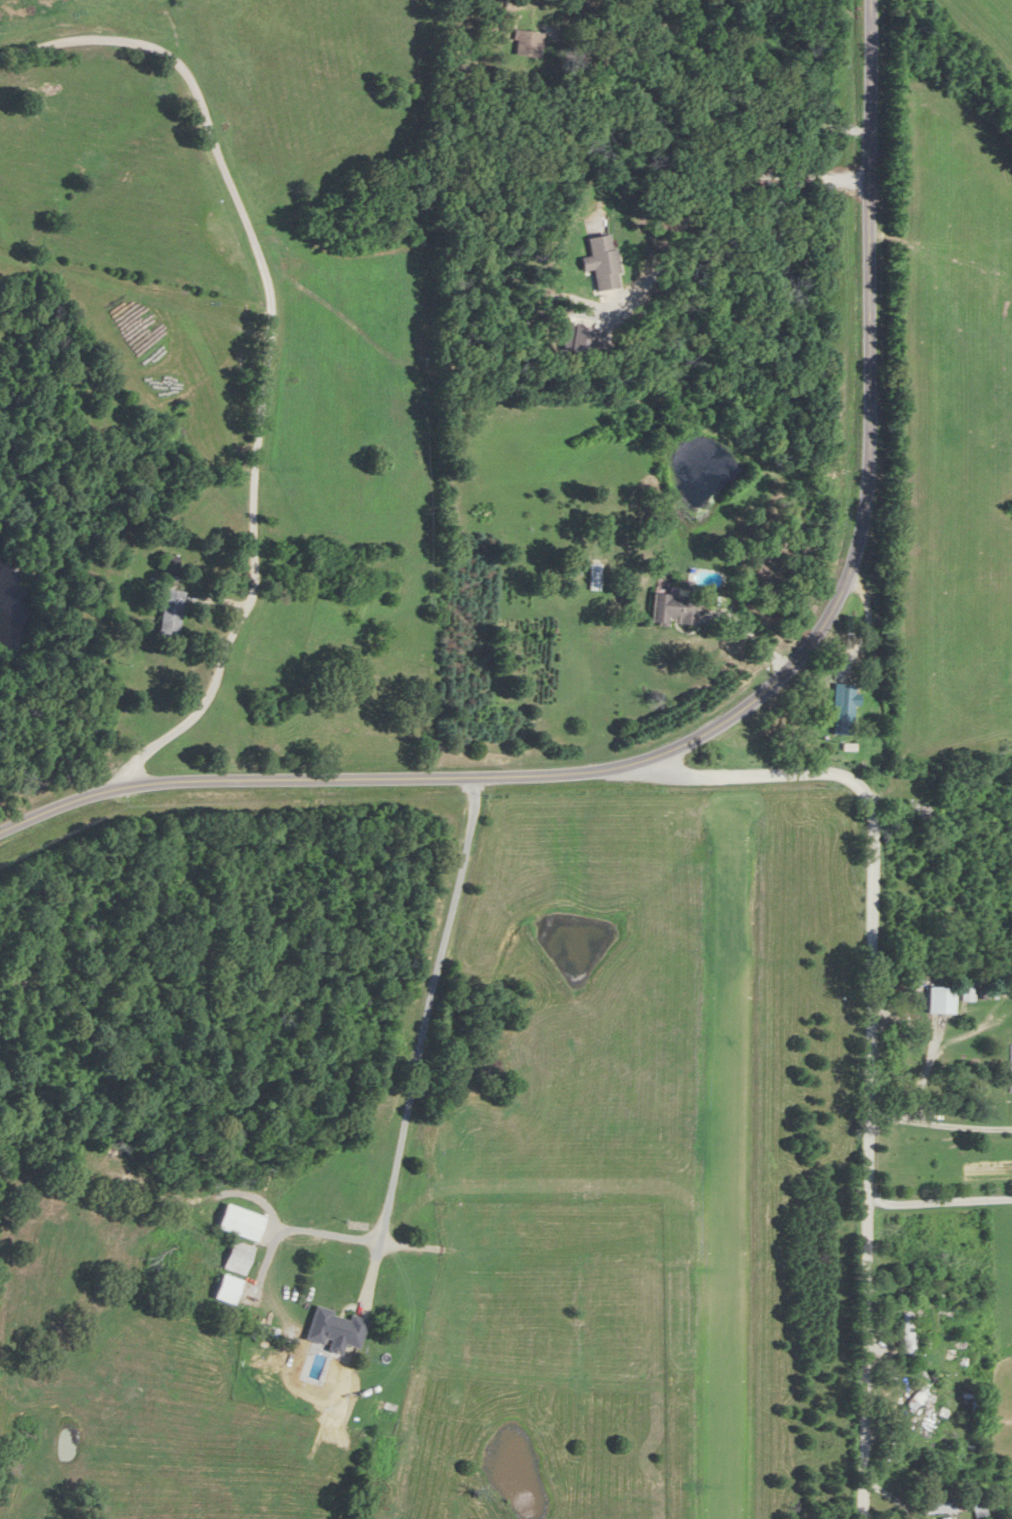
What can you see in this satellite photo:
building: (528, 44)
building: (598, 261)
road: (268, 347)
building: (170, 567)
building: (592, 576)
building: (669, 609)
building: (172, 612)
road: (671, 638)
building: (839, 709)
road: (735, 714)
building: (962, 994)
building: (934, 1000)
road: (870, 1040)
road: (423, 1044)
road: (930, 1060)
building: (905, 1065)
building: (1009, 1068)
road: (959, 1118)
road: (912, 1121)
road: (940, 1198)
building: (242, 1223)
building: (336, 1330)
building: (901, 1334)
building: (922, 1417)
building: (936, 1507)
building: (941, 1518)

